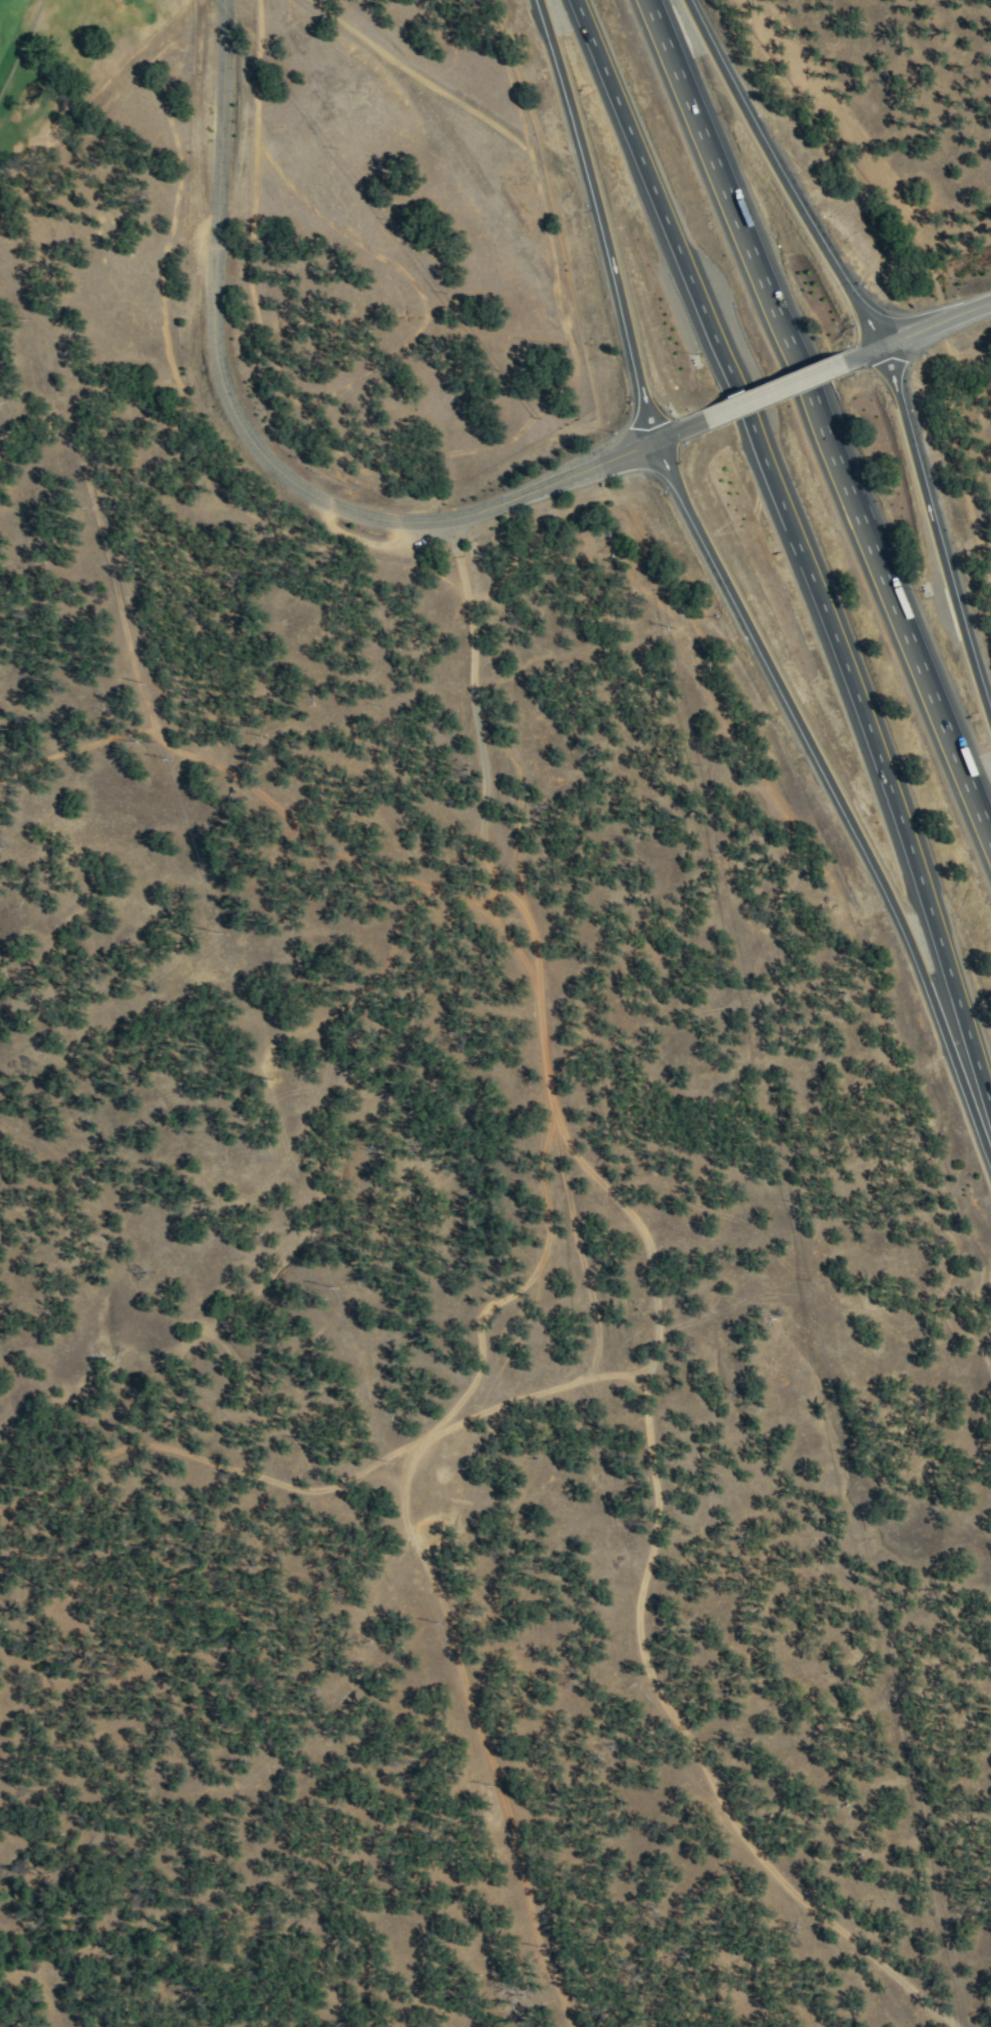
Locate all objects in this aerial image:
park: (70, 65)
road: (784, 173)
road: (602, 219)
road: (913, 332)
road: (770, 391)
road: (826, 412)
road: (677, 430)
road: (247, 439)
road: (938, 521)
road: (800, 545)
road: (830, 790)

